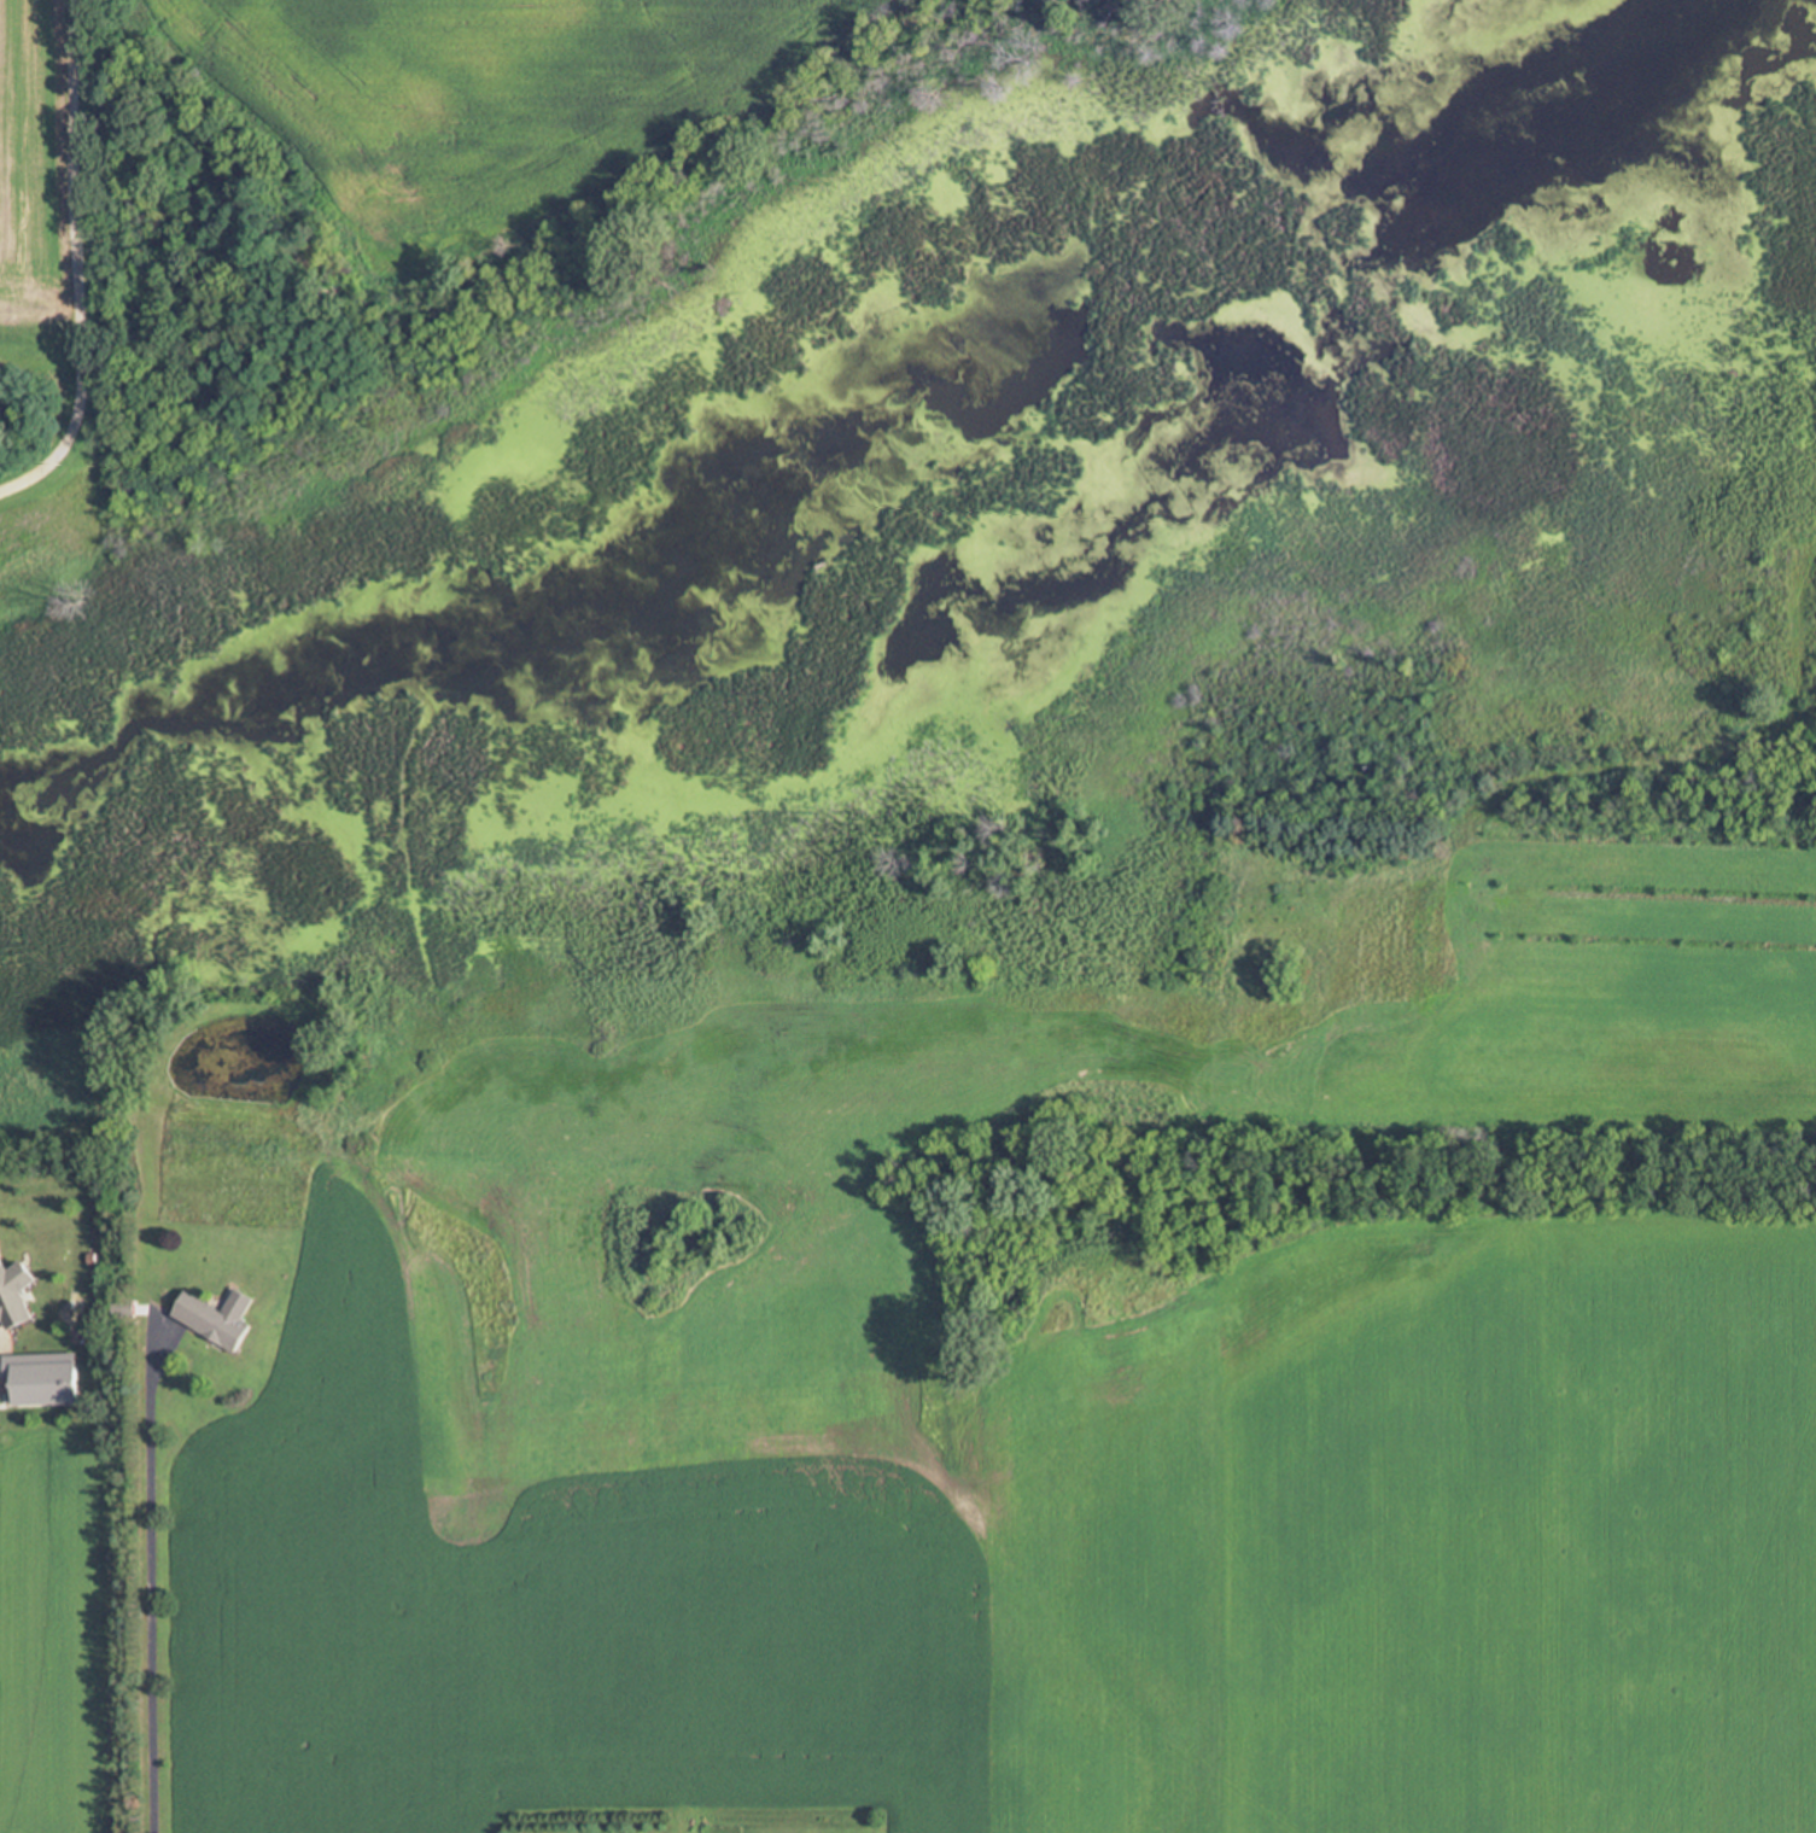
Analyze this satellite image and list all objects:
building: (123, 1308)
building: (217, 1319)
road: (139, 1582)

